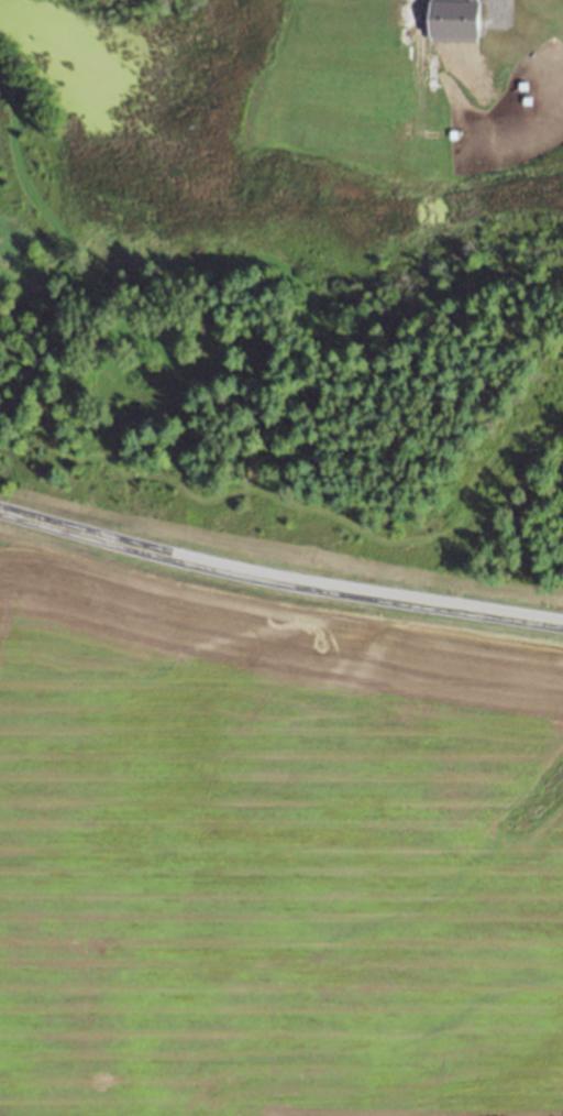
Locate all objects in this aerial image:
road: (278, 580)

